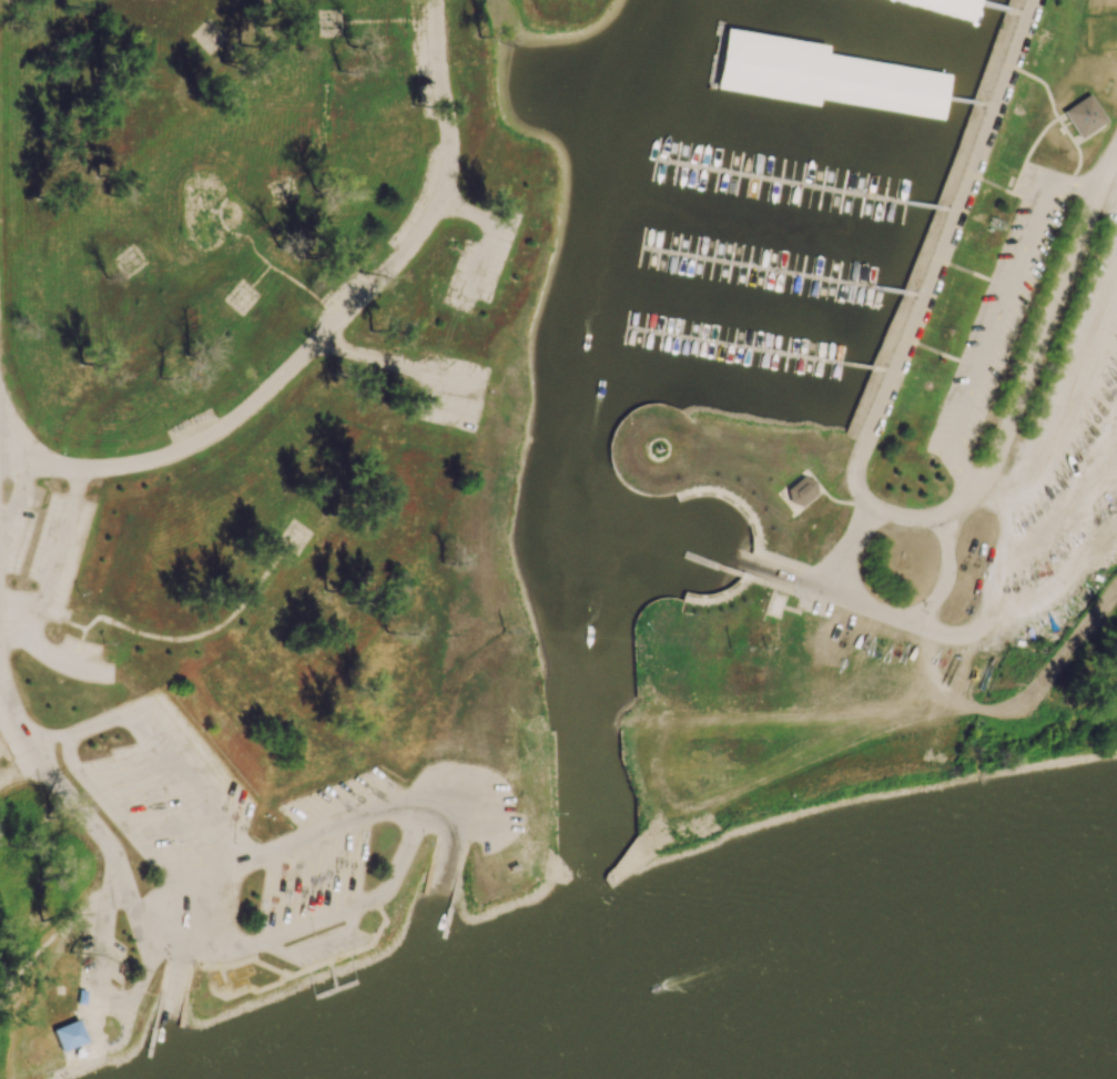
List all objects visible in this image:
road: (993, 6)
building: (952, 7)
road: (1019, 13)
road: (374, 21)
park: (207, 39)
parking lot: (422, 47)
building: (773, 53)
road: (851, 72)
building: (885, 81)
road: (1042, 83)
road: (987, 105)
building: (1080, 118)
road: (1063, 132)
road: (1089, 136)
road: (1028, 153)
road: (1077, 164)
road: (1108, 166)
road: (799, 177)
road: (992, 185)
road: (1108, 187)
park: (283, 191)
parking lot: (419, 205)
road: (948, 211)
road: (465, 212)
road: (233, 233)
road: (942, 257)
road: (479, 265)
parking lot: (481, 265)
road: (775, 266)
road: (964, 271)
road: (258, 276)
road: (295, 284)
road: (917, 296)
building: (240, 297)
parking lot: (342, 299)
road: (356, 302)
parking lot: (998, 314)
road: (998, 318)
road: (1039, 342)
road: (754, 344)
road: (933, 350)
road: (385, 364)
road: (886, 371)
parking lot: (453, 391)
road: (450, 394)
road: (1074, 404)
parking lot: (192, 430)
road: (14, 440)
park: (520, 457)
road: (16, 459)
road: (57, 466)
road: (29, 471)
road: (78, 482)
road: (997, 501)
road: (957, 508)
road: (13, 519)
road: (905, 520)
road: (758, 531)
parking lot: (45, 538)
building: (293, 539)
road: (59, 547)
road: (849, 549)
road: (1, 556)
road: (1006, 559)
road: (718, 567)
road: (945, 576)
road: (793, 594)
road: (837, 594)
road: (722, 600)
building: (775, 608)
road: (39, 610)
road: (985, 619)
road: (17, 621)
building: (87, 623)
building: (809, 624)
road: (945, 631)
road: (34, 632)
road: (174, 639)
road: (72, 660)
parking lot: (71, 662)
road: (1047, 670)
road: (954, 671)
road: (903, 711)
road: (749, 722)
road: (933, 742)
road: (747, 766)
road: (52, 775)
road: (440, 884)
road: (103, 933)
parking lot: (100, 954)
road: (145, 954)
road: (34, 956)
pier: (334, 975)
pier: (337, 988)
building: (83, 997)
road: (173, 1006)
building: (72, 1036)
river: (1003, 1040)
pier: (90, 1077)

